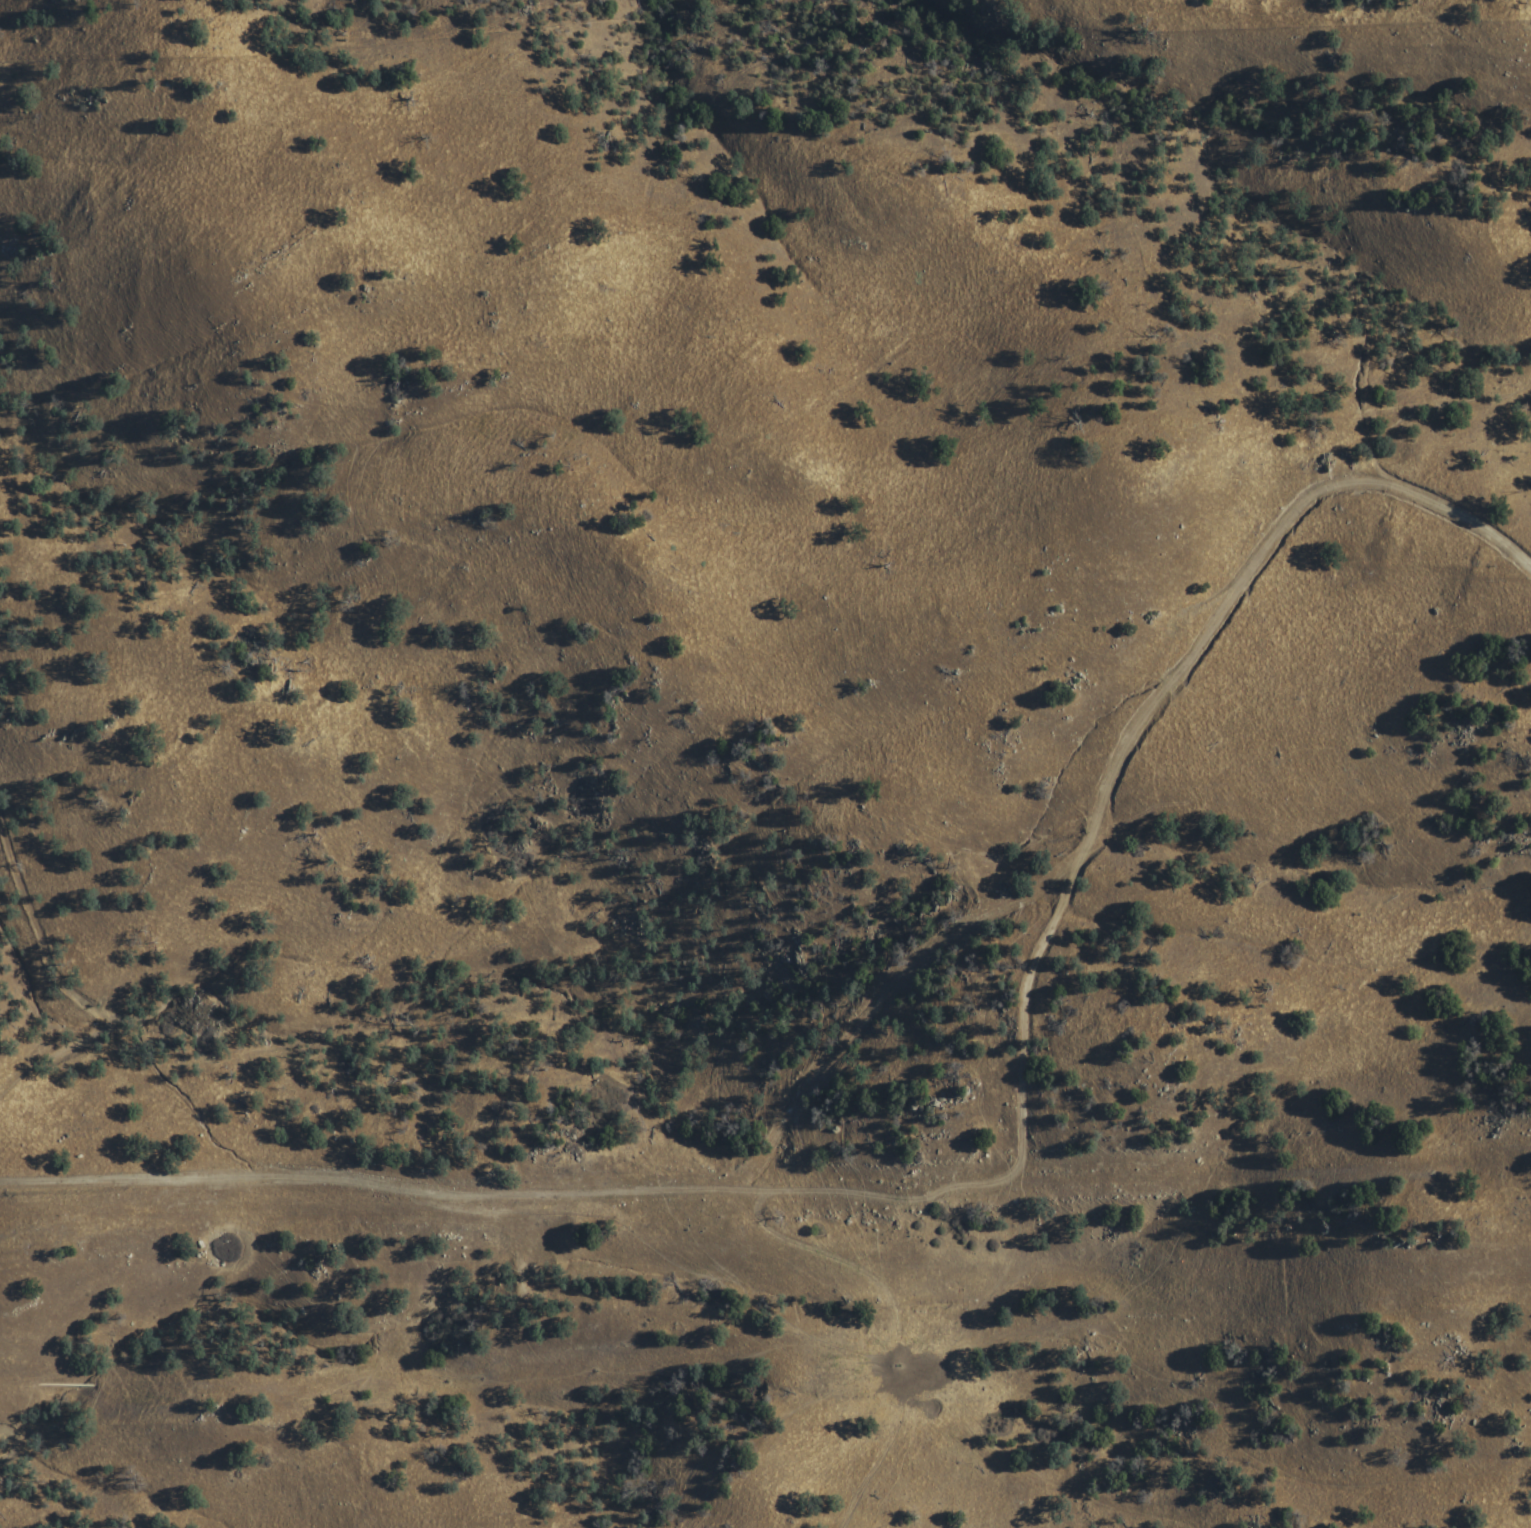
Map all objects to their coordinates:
road: (864, 1026)

